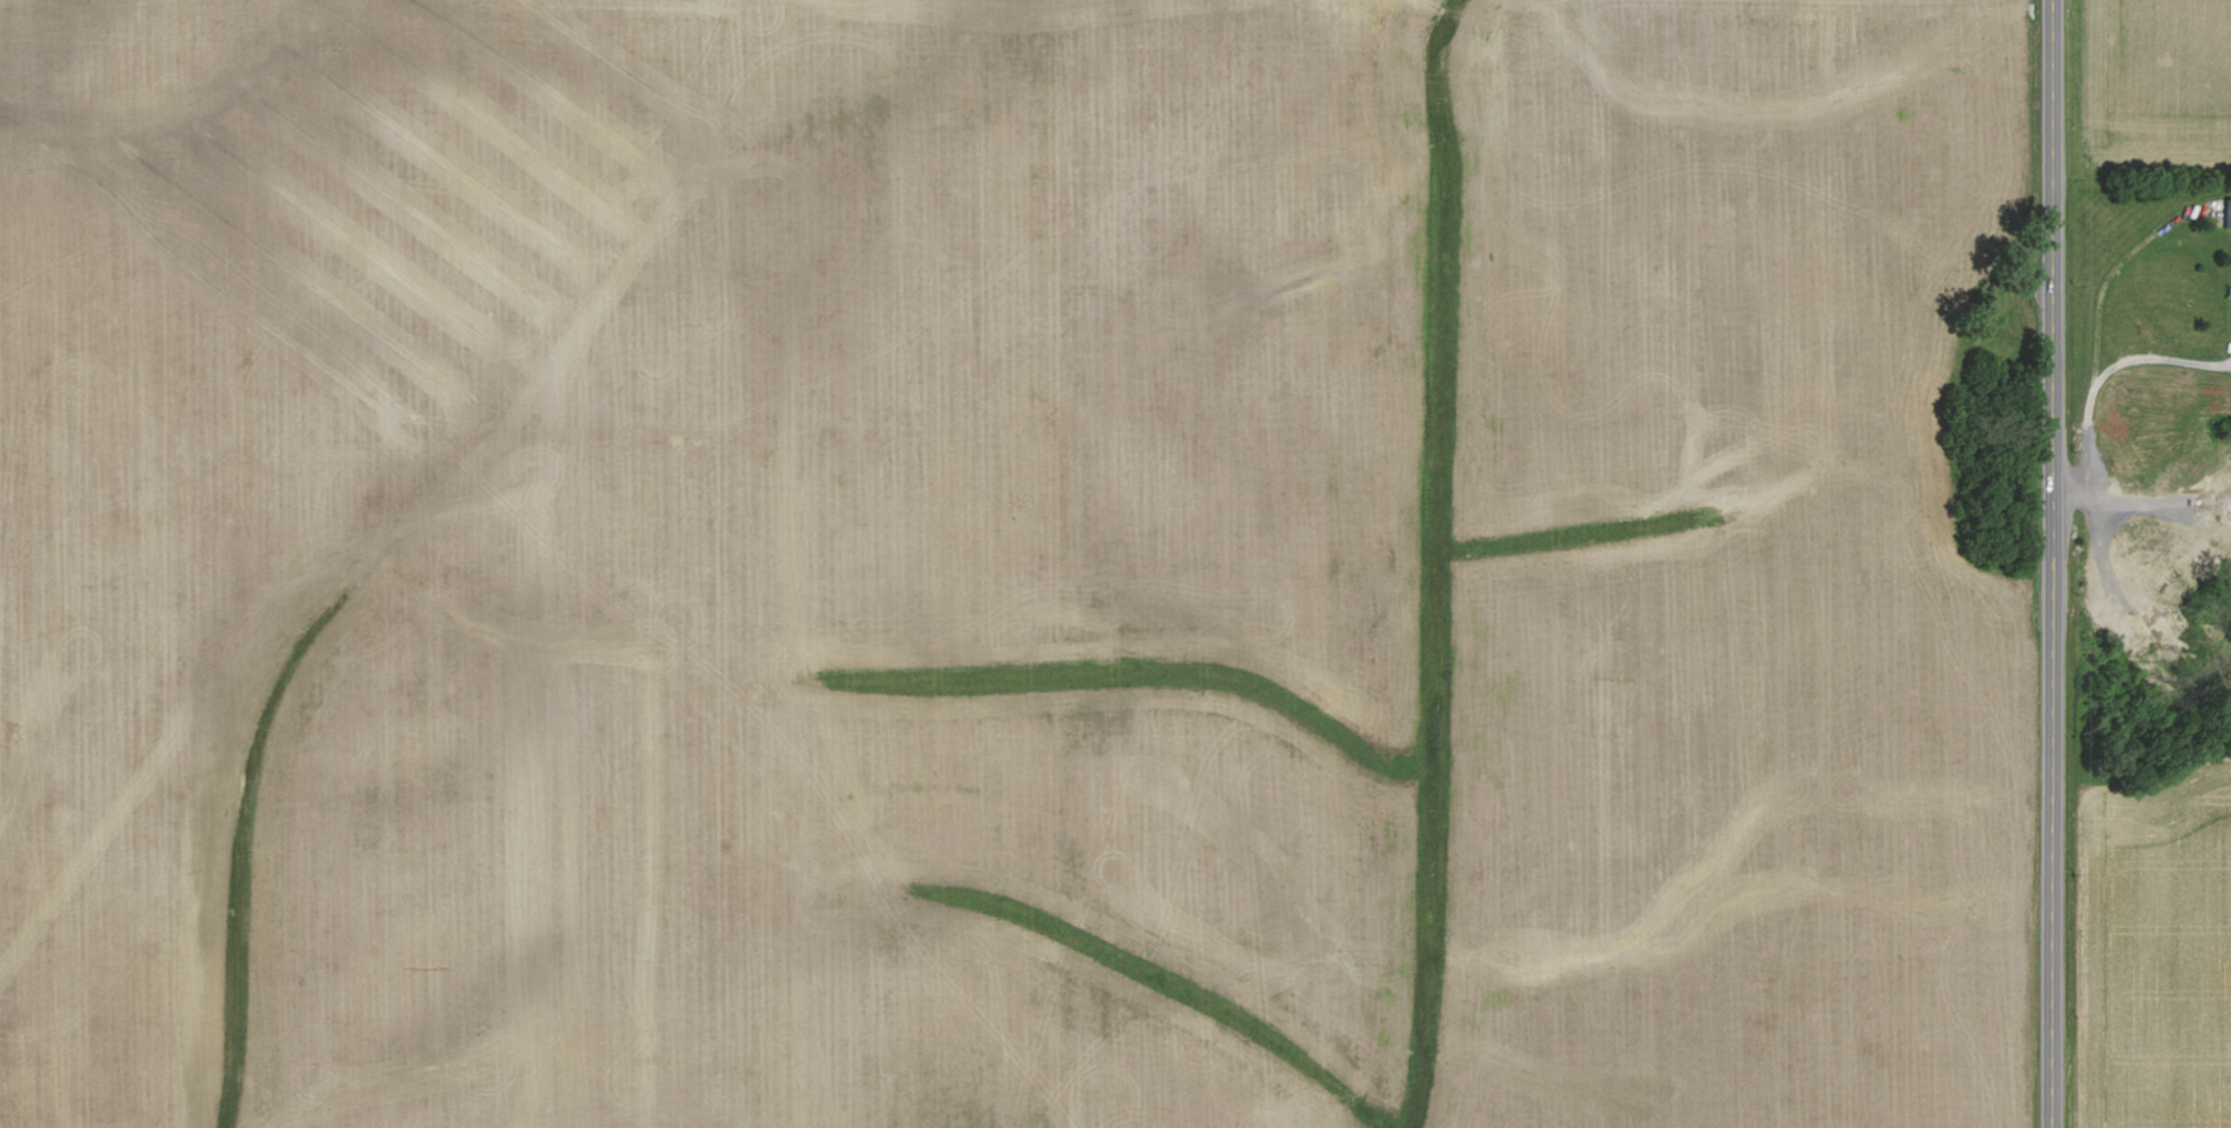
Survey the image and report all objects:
building: (2228, 213)
road: (2099, 373)
road: (2053, 563)

